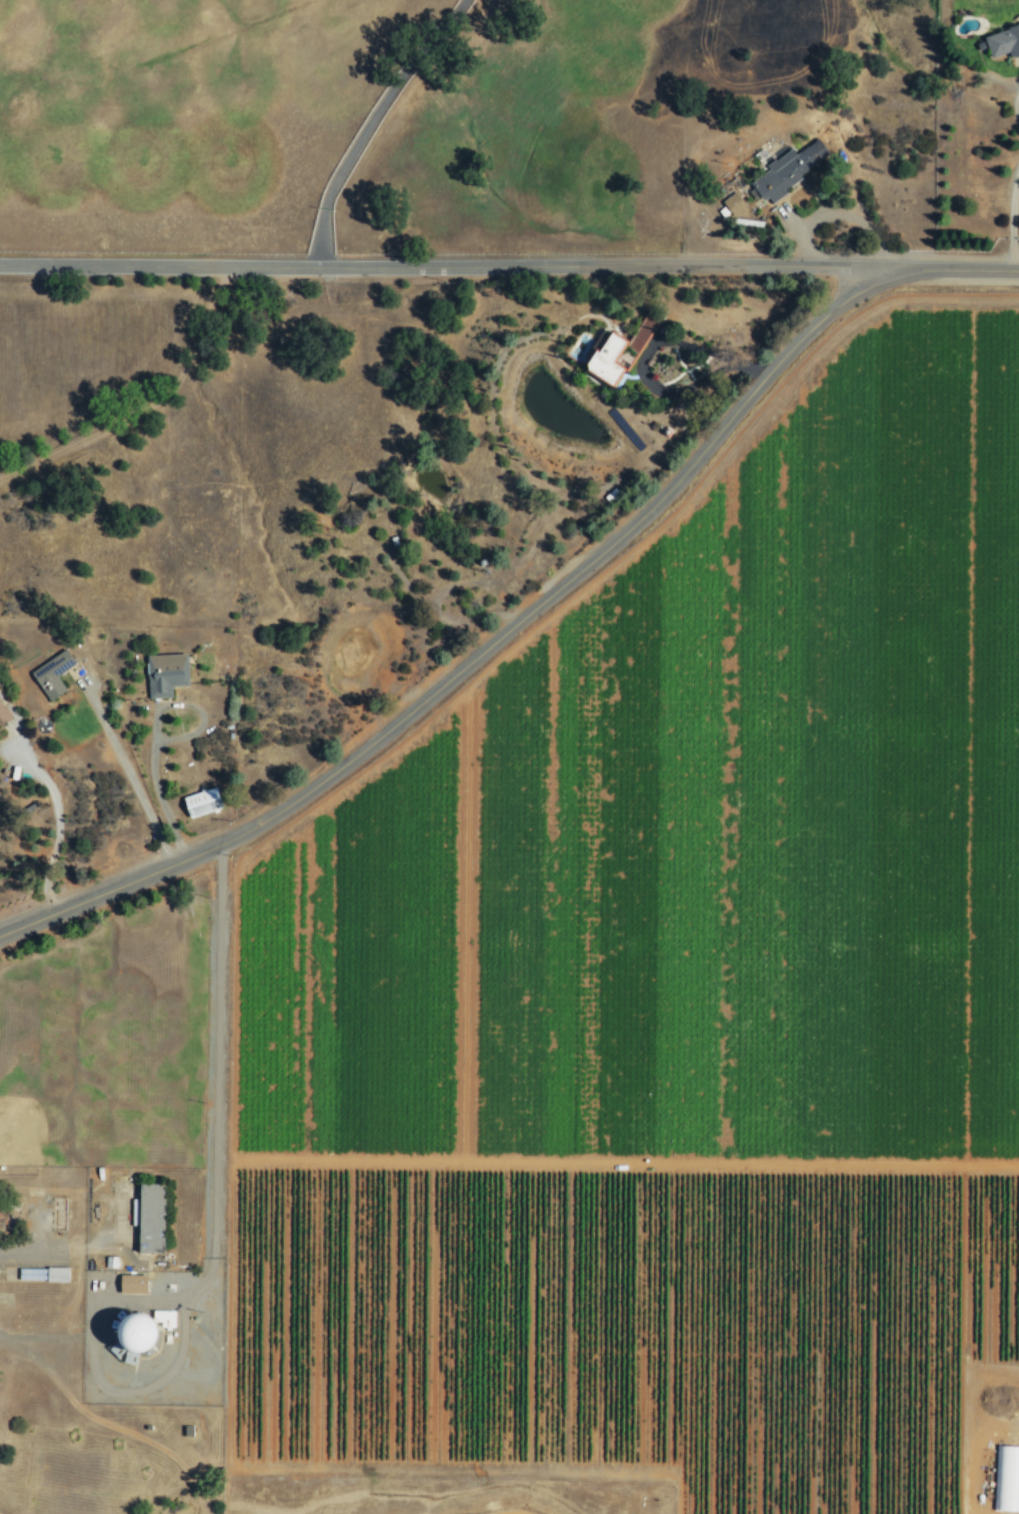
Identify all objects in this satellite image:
building: (1003, 43)
road: (1017, 106)
road: (368, 123)
building: (789, 170)
building: (733, 205)
road: (1011, 217)
road: (455, 266)
road: (964, 270)
building: (607, 359)
road: (486, 645)
building: (167, 673)
building: (52, 674)
building: (3, 715)
road: (156, 732)
road: (124, 765)
building: (202, 802)
road: (55, 827)
park: (108, 1041)
building: (152, 1218)
road: (214, 1236)
building: (31, 1274)
building: (57, 1275)
building: (134, 1284)
building: (138, 1334)
road: (40, 1337)
building: (1006, 1479)

